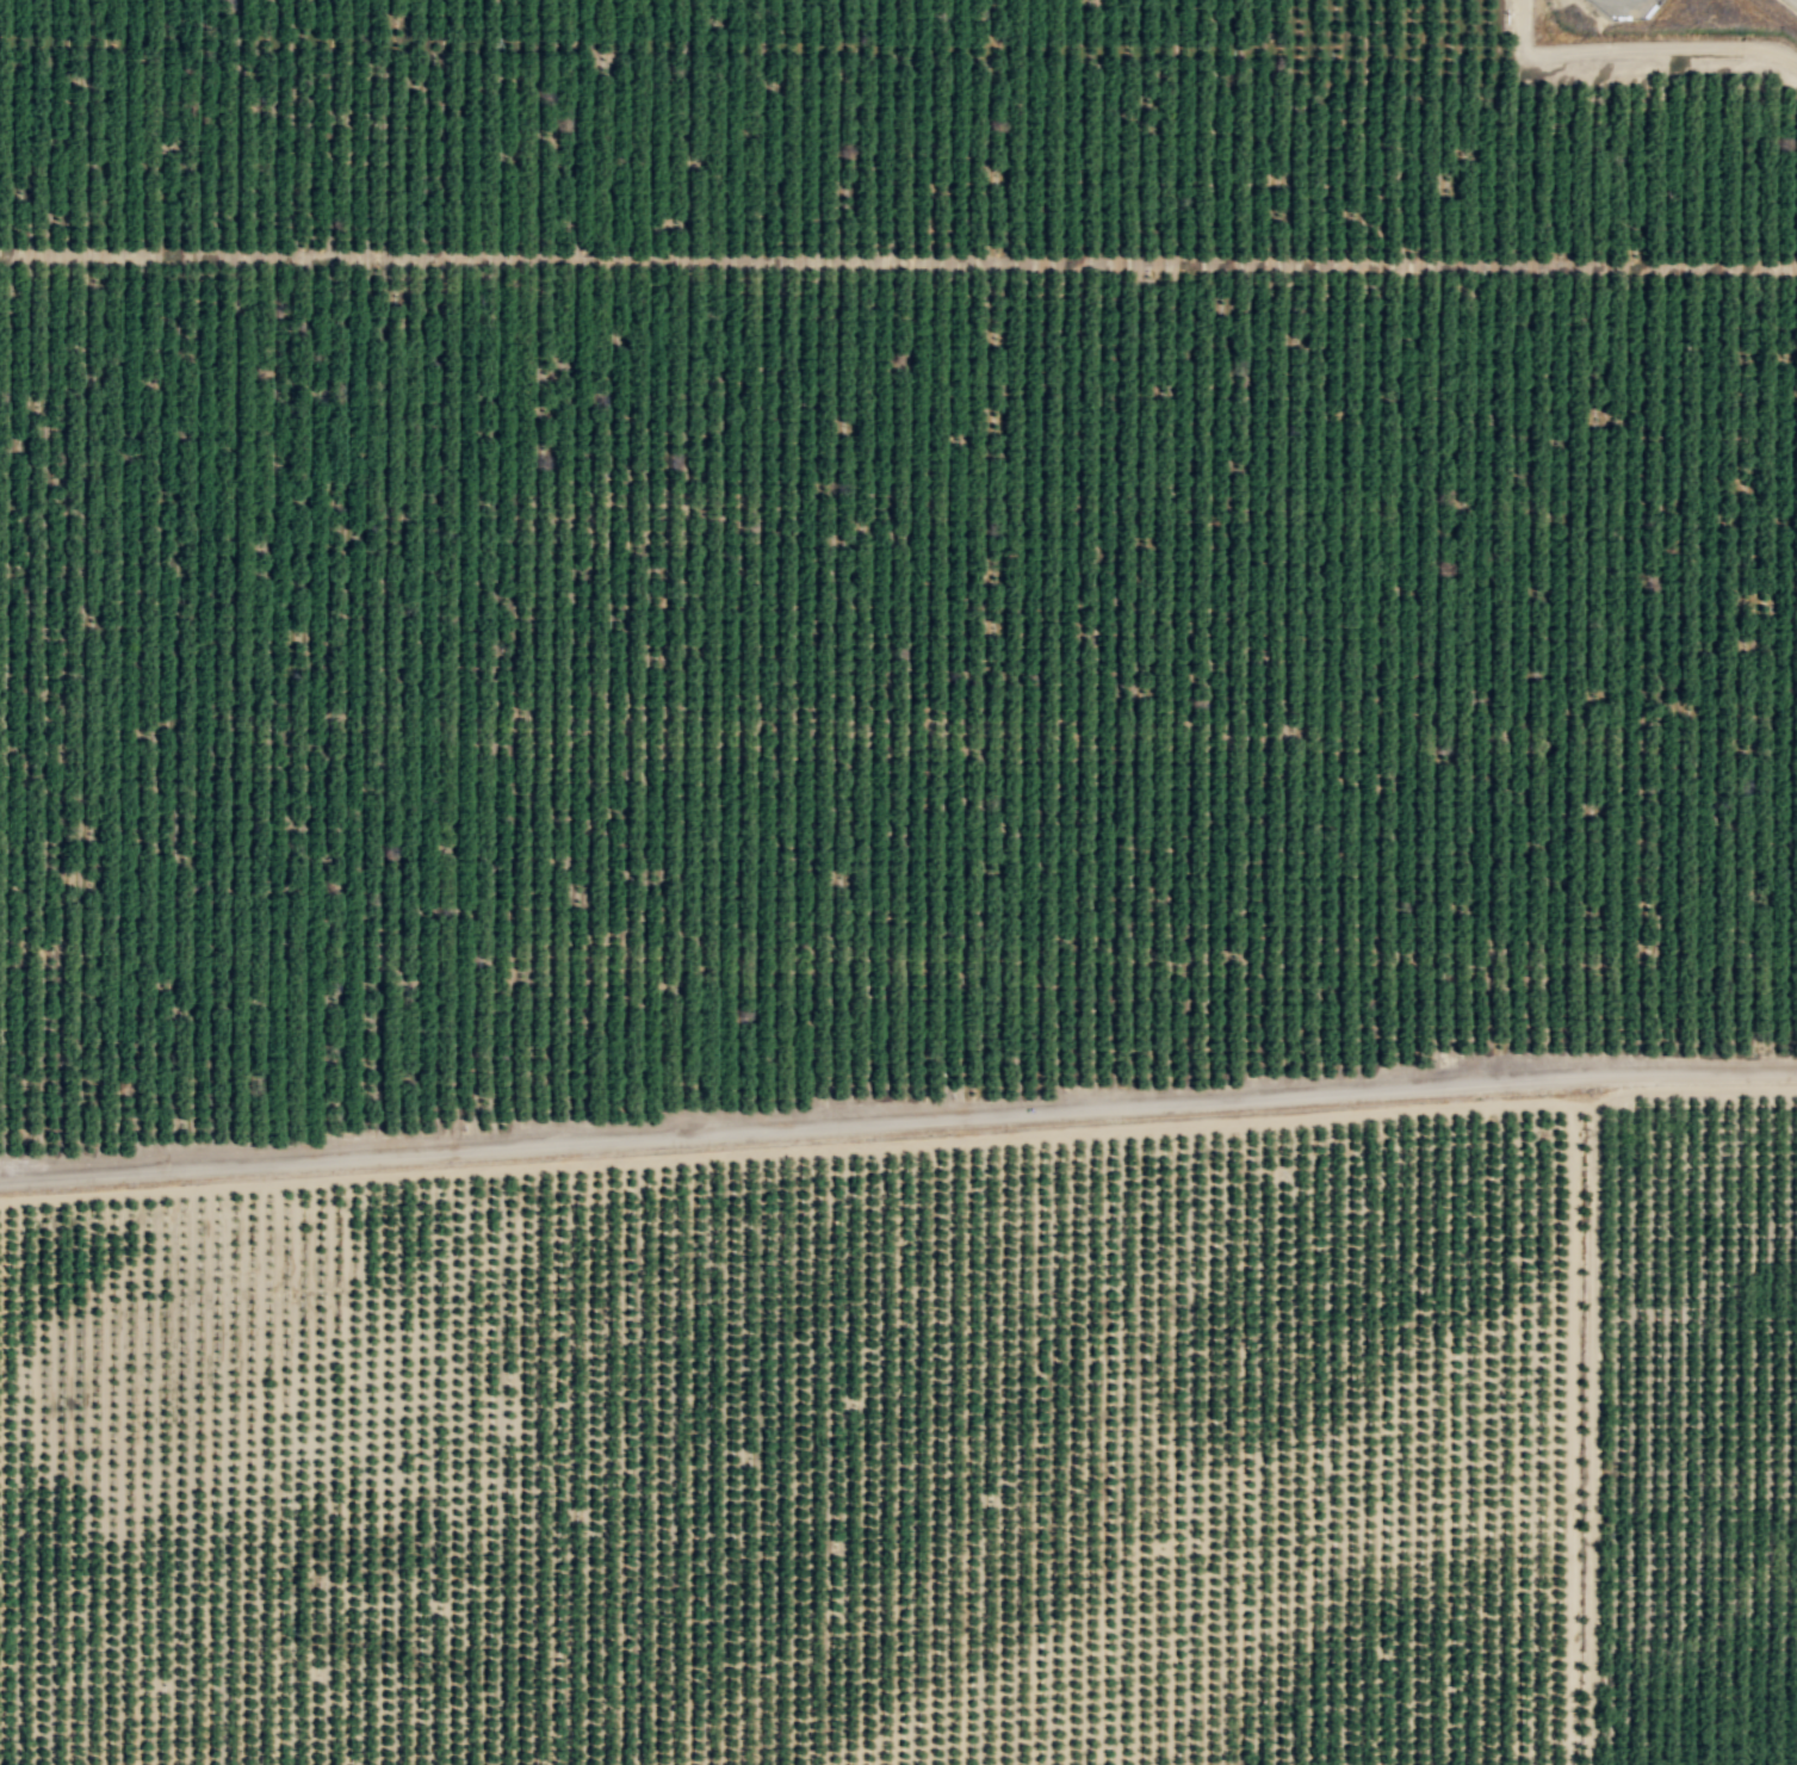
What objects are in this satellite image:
road: (1795, 1)
road: (1637, 50)
road: (1693, 1090)
road: (1582, 1104)
road: (898, 1122)
road: (786, 1152)
road: (1572, 1435)
road: (1590, 1435)

